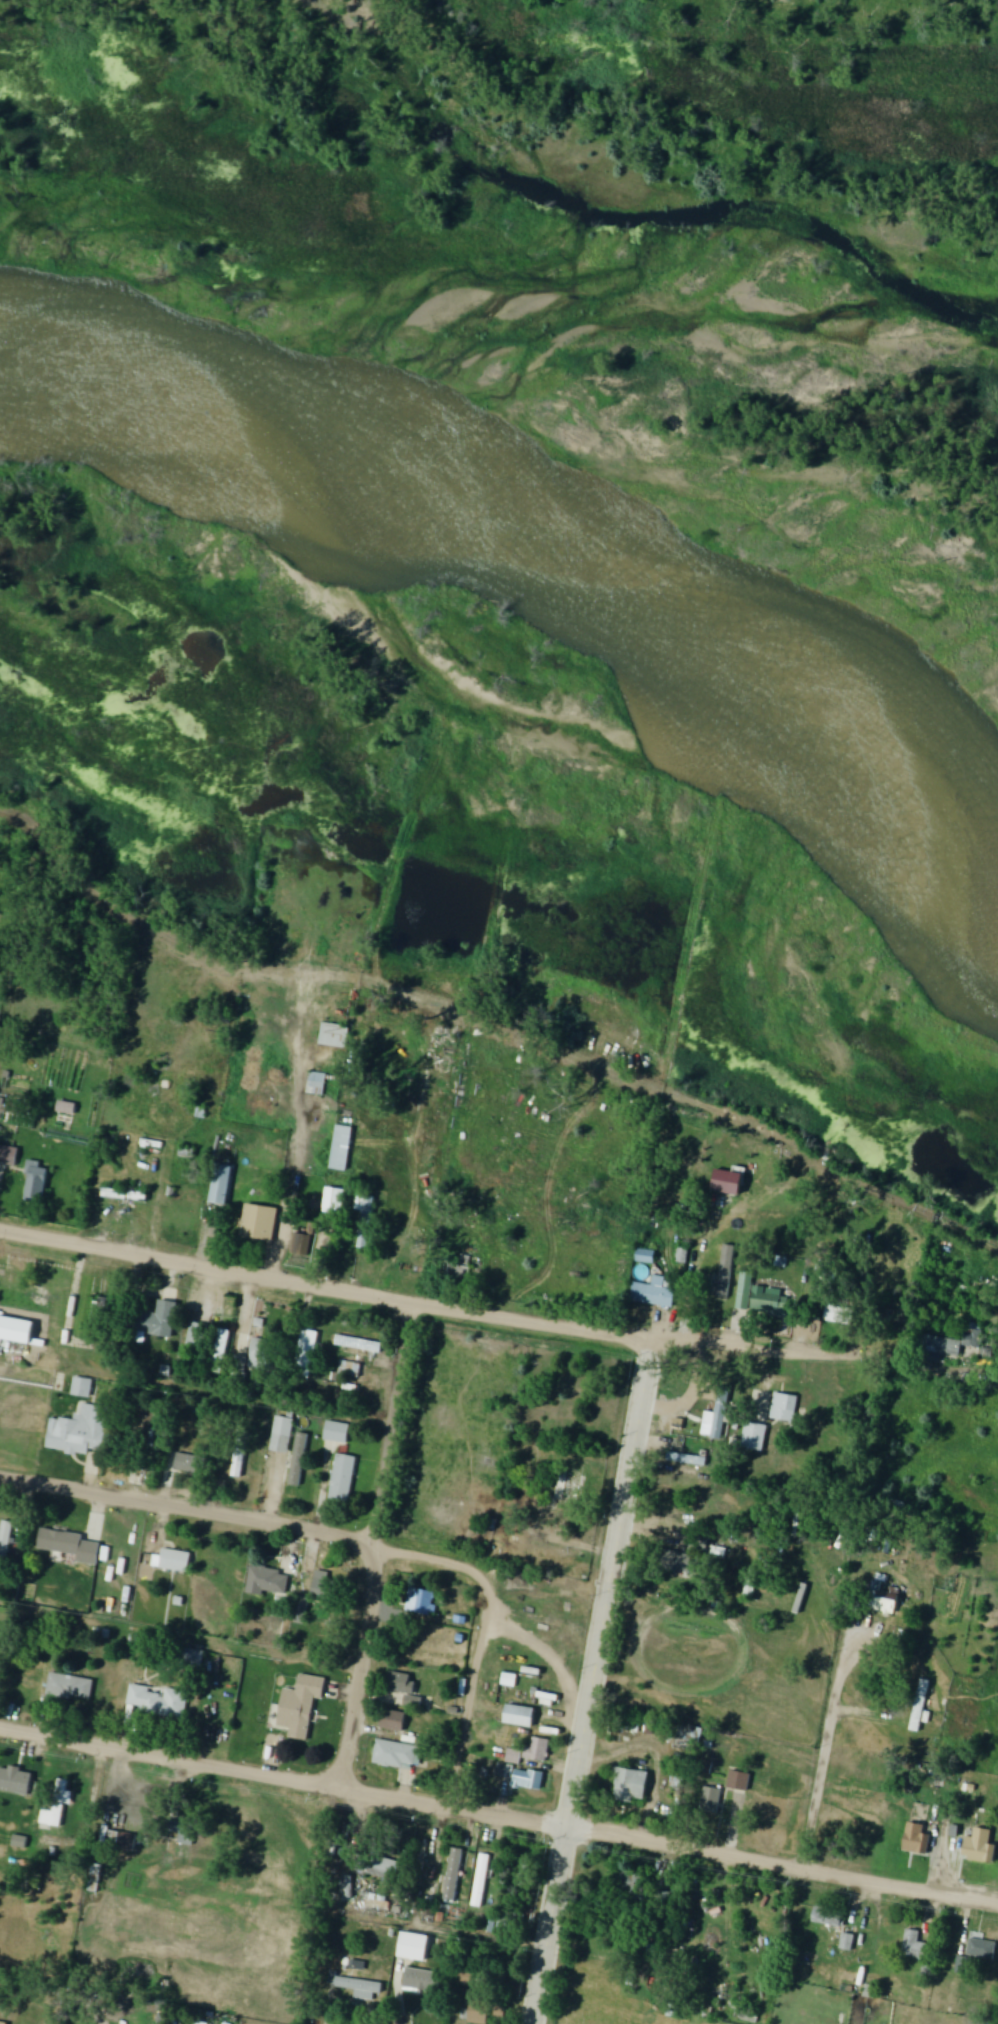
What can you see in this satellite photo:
river: (541, 542)
building: (334, 1035)
building: (317, 1084)
building: (342, 1148)
building: (9, 1156)
building: (37, 1184)
building: (222, 1186)
building: (125, 1196)
road: (594, 1197)
building: (335, 1201)
building: (259, 1223)
building: (301, 1245)
building: (454, 1271)
building: (726, 1272)
building: (745, 1291)
building: (654, 1294)
building: (777, 1306)
building: (0, 1311)
road: (485, 1316)
building: (840, 1316)
building: (157, 1321)
building: (196, 1337)
building: (359, 1344)
building: (940, 1349)
building: (221, 1351)
building: (260, 1354)
building: (306, 1354)
building: (351, 1370)
building: (82, 1388)
road: (222, 1396)
building: (759, 1402)
building: (785, 1408)
building: (336, 1431)
building: (80, 1432)
building: (281, 1435)
building: (755, 1437)
building: (299, 1460)
building: (188, 1464)
building: (342, 1479)
building: (569, 1483)
road: (186, 1507)
building: (5, 1542)
road: (372, 1545)
building: (70, 1547)
building: (175, 1561)
building: (679, 1565)
building: (269, 1581)
building: (750, 1589)
building: (325, 1590)
building: (886, 1601)
building: (421, 1603)
building: (301, 1613)
road: (479, 1635)
road: (180, 1637)
building: (195, 1657)
road: (592, 1680)
building: (71, 1687)
building: (406, 1690)
building: (548, 1700)
building: (158, 1703)
building: (920, 1706)
building: (301, 1707)
building: (519, 1716)
building: (394, 1721)
road: (825, 1745)
building: (538, 1751)
building: (396, 1755)
building: (16, 1781)
building: (529, 1781)
building: (740, 1781)
building: (632, 1786)
building: (712, 1801)
building: (56, 1809)
road: (499, 1814)
building: (181, 1832)
building: (917, 1840)
building: (129, 1842)
building: (981, 1848)
building: (420, 1856)
building: (380, 1868)
building: (453, 1876)
building: (481, 1882)
building: (640, 1890)
building: (430, 1899)
building: (829, 1919)
building: (508, 1920)
road: (389, 1921)
building: (848, 1943)
building: (915, 1947)
building: (414, 1948)
building: (982, 1949)
building: (960, 1965)
building: (465, 1980)
building: (426, 1984)
building: (359, 1989)
building: (482, 2013)

